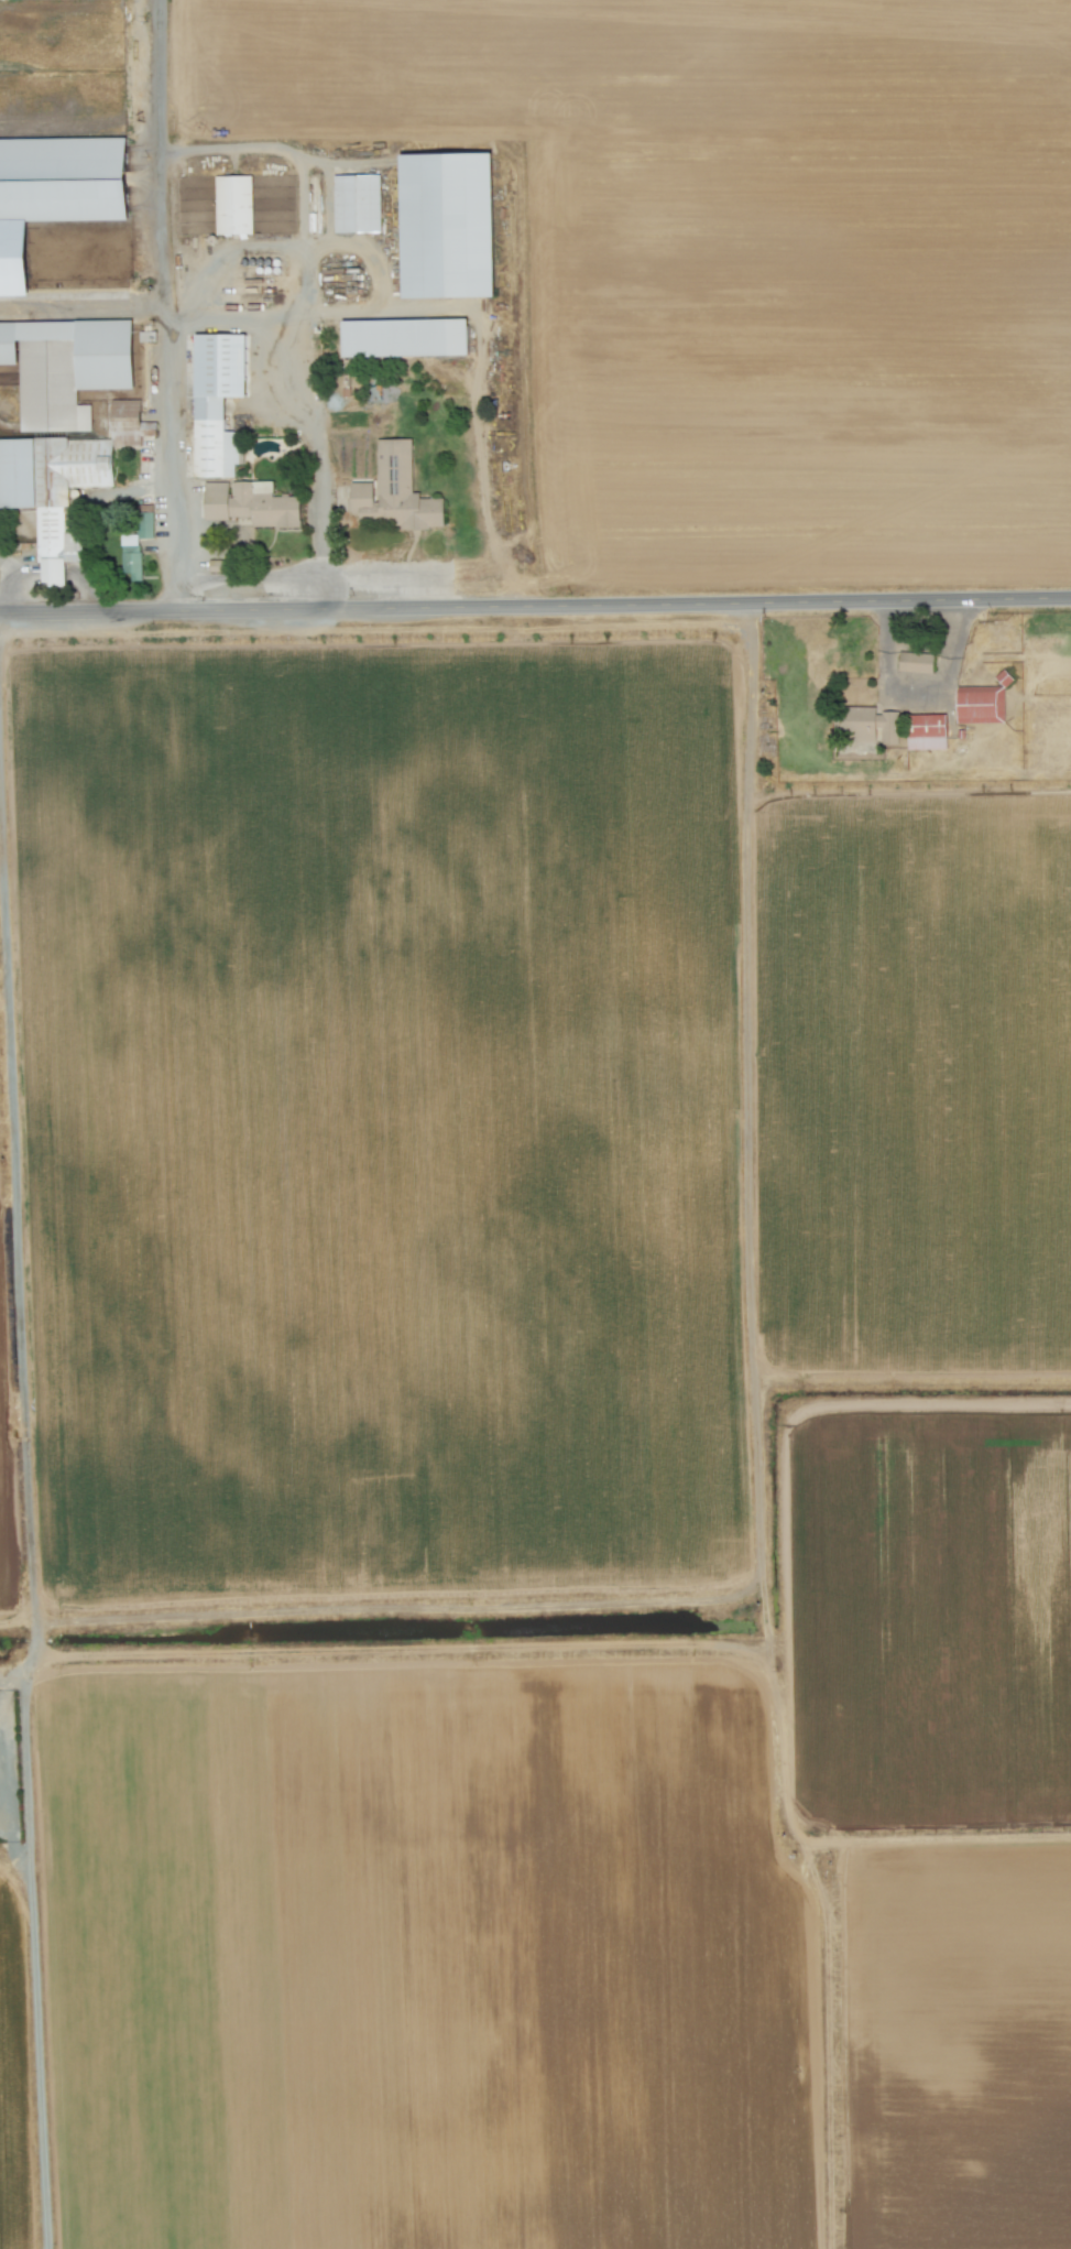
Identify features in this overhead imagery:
building: (55, 192)
building: (356, 204)
building: (232, 206)
building: (447, 226)
road: (157, 306)
building: (403, 338)
building: (65, 368)
building: (216, 402)
road: (294, 416)
building: (61, 481)
building: (395, 491)
building: (250, 504)
building: (134, 545)
road: (244, 579)
road: (535, 607)
road: (2, 628)
building: (915, 662)
building: (982, 704)
building: (868, 724)
building: (926, 731)
road: (26, 1495)
road: (8, 1775)

